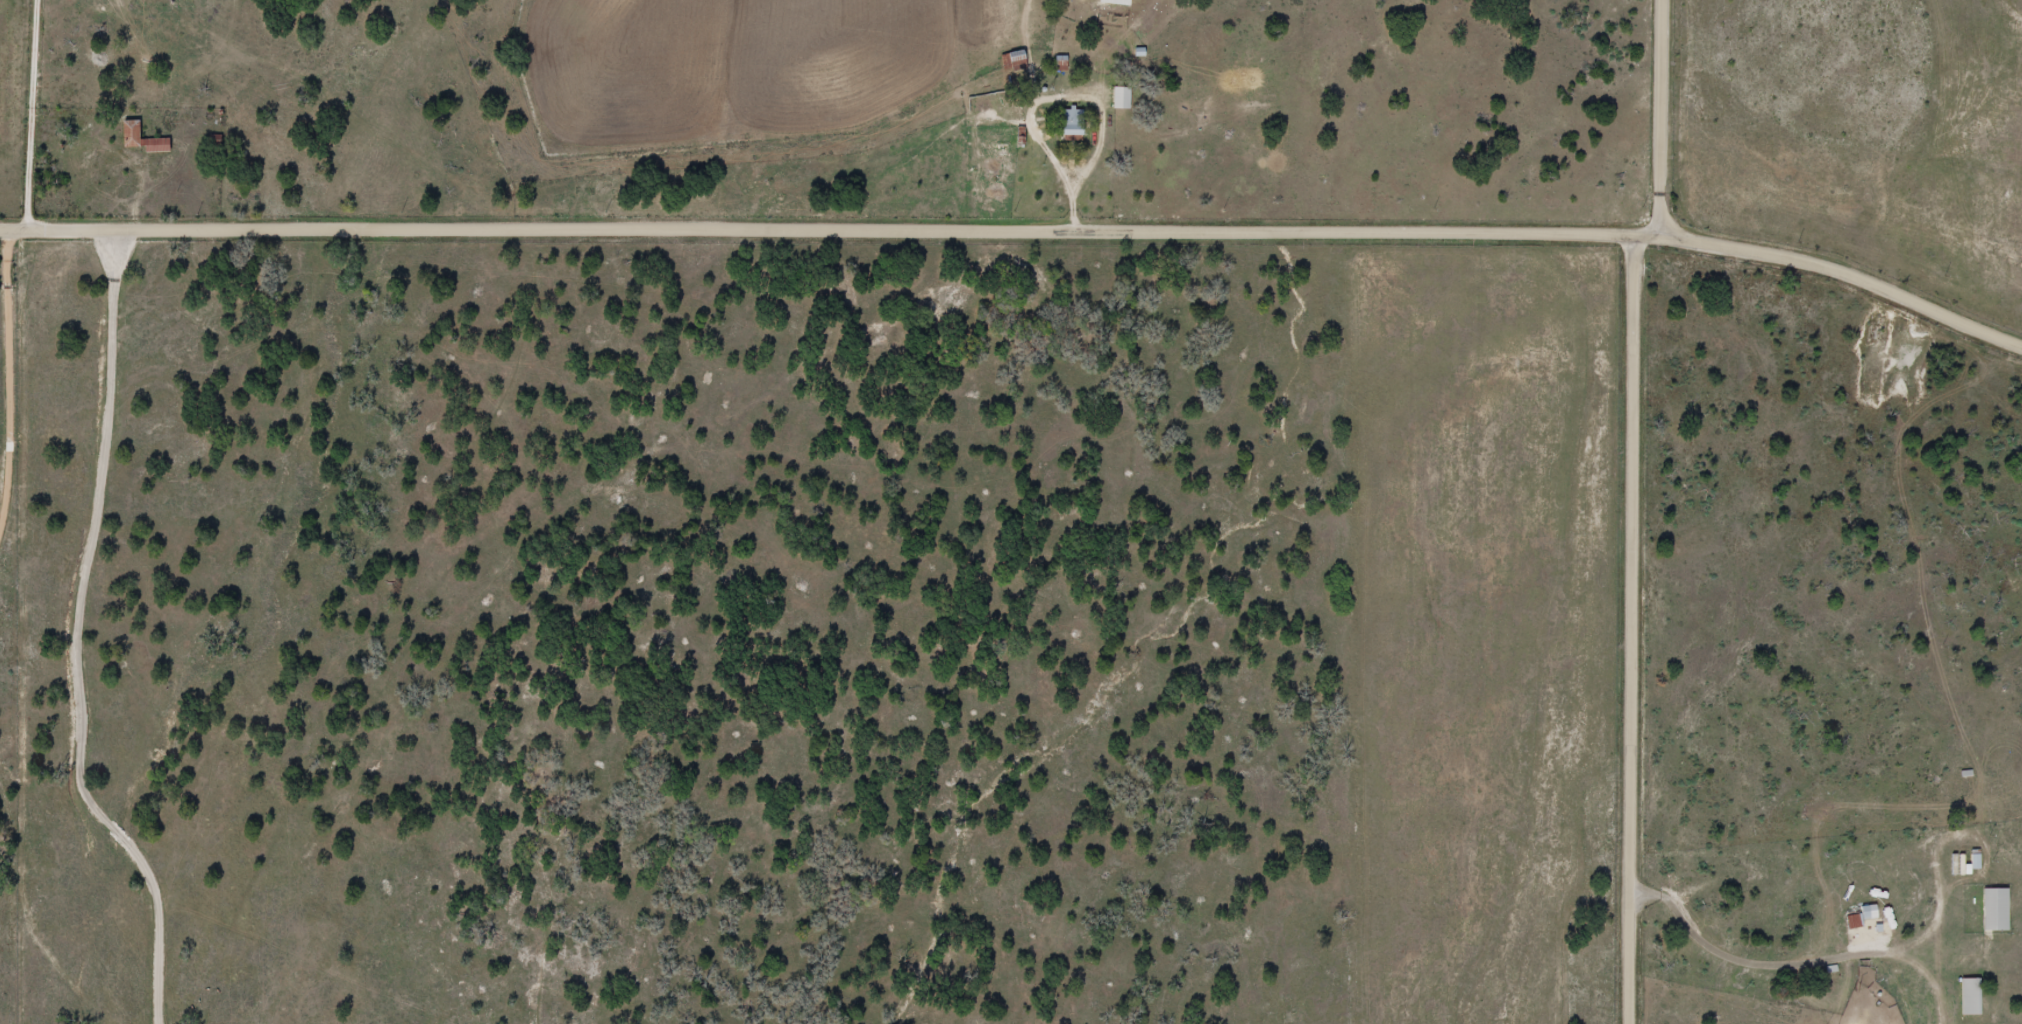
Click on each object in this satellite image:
building: (1113, 3)
building: (1017, 62)
building: (1121, 98)
road: (32, 113)
road: (1665, 119)
building: (1071, 124)
building: (141, 140)
road: (4, 227)
road: (1032, 233)
road: (4, 341)
road: (1641, 630)
road: (77, 636)
building: (1995, 910)
building: (1970, 998)

